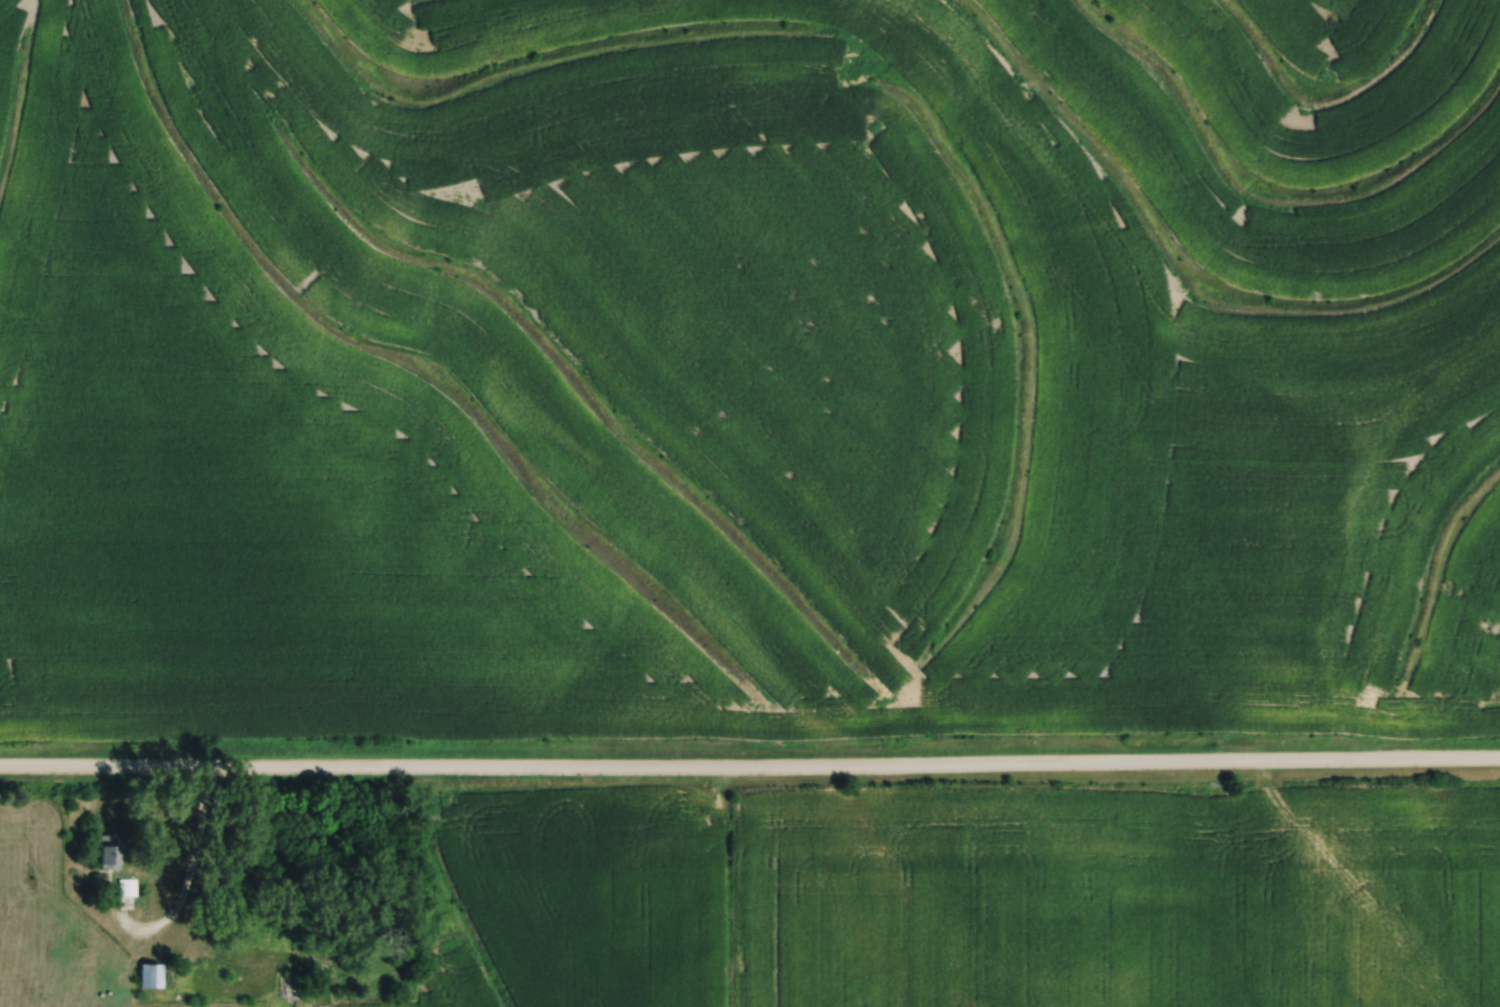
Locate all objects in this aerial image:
road: (750, 773)
building: (112, 851)
road: (177, 870)
building: (129, 887)
building: (153, 973)
building: (290, 986)

